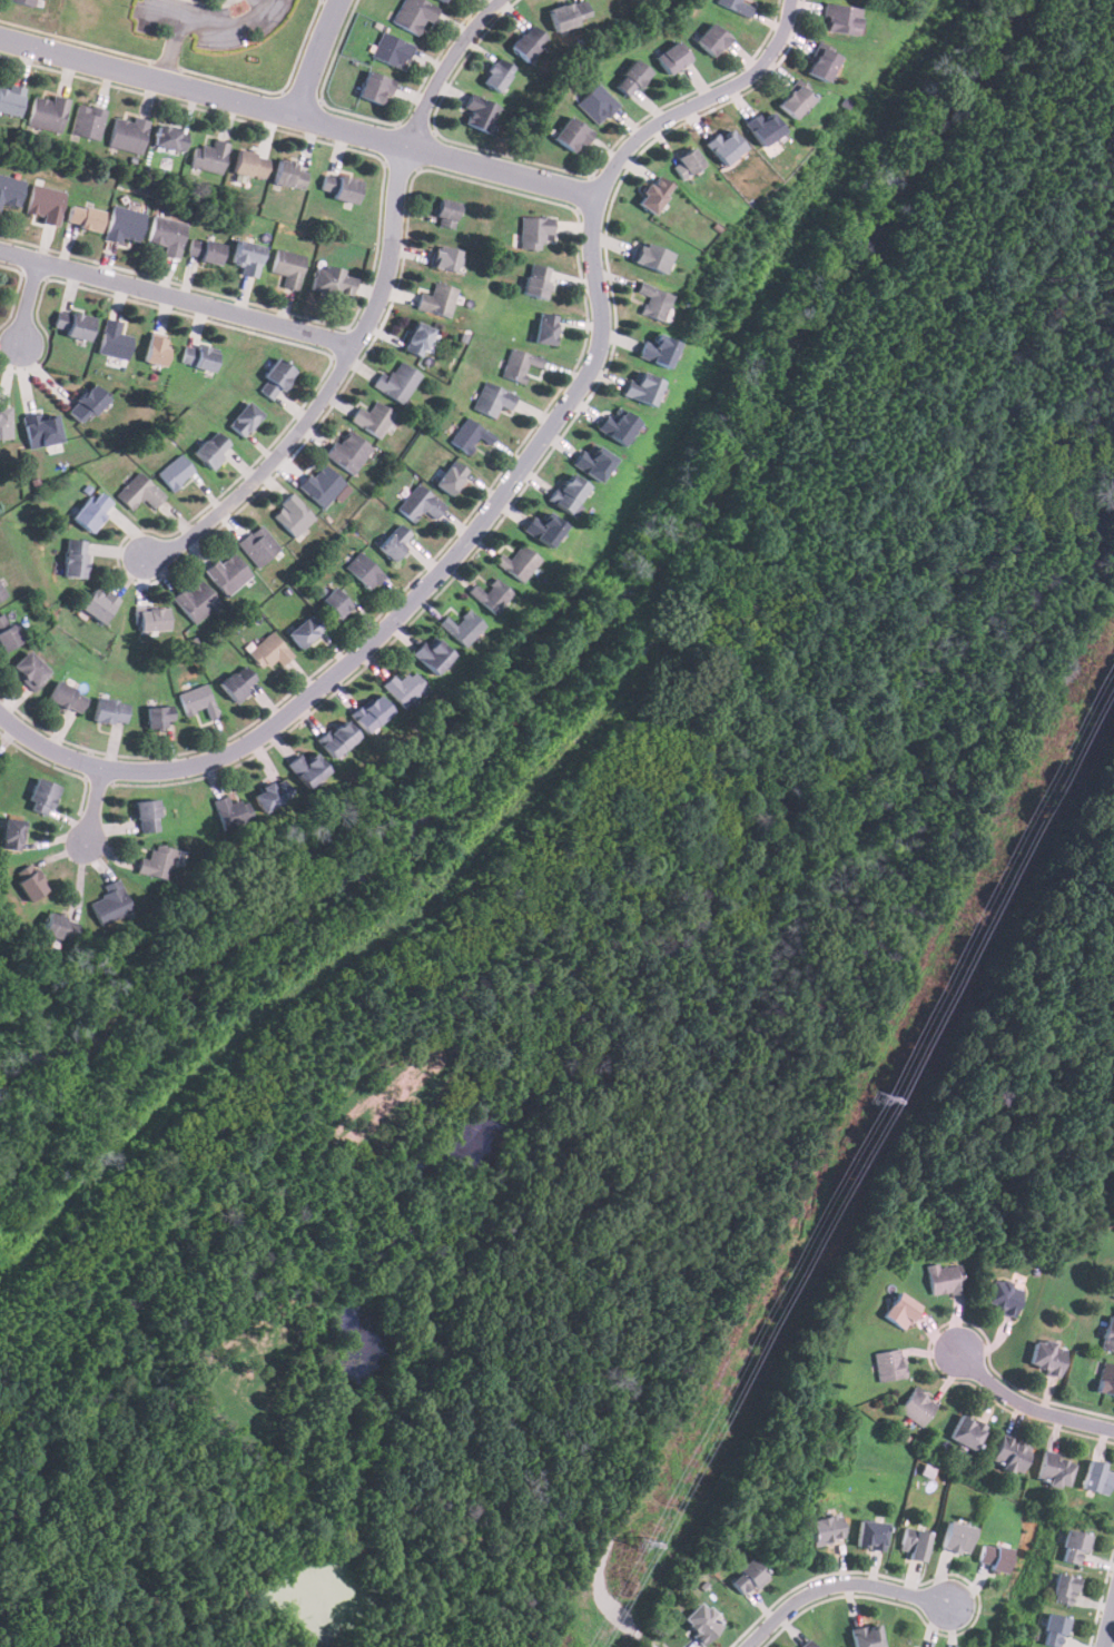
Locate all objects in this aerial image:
building: (442, 1)
building: (23, 2)
building: (739, 7)
road: (160, 12)
building: (569, 13)
building: (413, 16)
building: (840, 18)
road: (214, 26)
building: (712, 38)
building: (528, 41)
building: (392, 50)
road: (316, 57)
building: (672, 57)
road: (165, 63)
building: (822, 63)
building: (495, 73)
building: (631, 77)
building: (374, 87)
building: (10, 100)
building: (795, 100)
building: (597, 103)
building: (47, 112)
building: (480, 112)
road: (297, 116)
building: (88, 121)
building: (765, 127)
building: (127, 134)
building: (571, 134)
building: (170, 138)
building: (726, 146)
building: (210, 157)
building: (249, 162)
building: (687, 162)
building: (288, 174)
building: (339, 187)
building: (10, 189)
building: (652, 194)
building: (45, 204)
building: (444, 213)
building: (83, 216)
building: (125, 225)
building: (534, 230)
building: (167, 234)
building: (205, 250)
building: (651, 256)
building: (246, 257)
building: (443, 257)
building: (287, 266)
building: (333, 279)
building: (535, 280)
road: (179, 297)
road: (28, 300)
building: (437, 300)
building: (653, 300)
road: (374, 313)
building: (72, 323)
building: (545, 328)
building: (112, 339)
building: (417, 339)
building: (657, 349)
building: (155, 351)
building: (198, 356)
building: (519, 364)
building: (275, 378)
building: (397, 382)
building: (641, 386)
building: (492, 400)
building: (86, 403)
building: (244, 418)
building: (372, 418)
building: (4, 423)
building: (618, 426)
building: (41, 428)
building: (471, 435)
building: (211, 448)
building: (347, 452)
building: (593, 461)
building: (175, 472)
building: (450, 477)
building: (322, 485)
building: (139, 493)
building: (569, 493)
road: (499, 496)
building: (420, 504)
building: (90, 510)
building: (292, 515)
building: (543, 529)
building: (394, 541)
building: (257, 545)
building: (75, 558)
building: (517, 563)
building: (363, 571)
building: (228, 573)
building: (2, 593)
building: (491, 595)
building: (195, 600)
building: (335, 601)
building: (98, 604)
building: (151, 620)
building: (462, 628)
building: (304, 631)
building: (7, 633)
building: (269, 652)
building: (432, 654)
building: (29, 670)
building: (238, 683)
building: (403, 688)
building: (66, 698)
building: (197, 701)
building: (110, 711)
building: (371, 713)
building: (159, 717)
building: (337, 739)
building: (305, 768)
building: (269, 795)
building: (41, 797)
road: (93, 803)
building: (230, 812)
building: (145, 816)
building: (11, 834)
building: (156, 862)
building: (30, 885)
building: (110, 904)
building: (59, 927)
power tower: (875, 1104)
building: (945, 1280)
building: (1112, 1290)
building: (1003, 1295)
building: (899, 1311)
building: (1108, 1335)
building: (1046, 1358)
building: (887, 1364)
building: (1105, 1380)
road: (1027, 1406)
building: (917, 1407)
building: (966, 1431)
building: (1009, 1454)
building: (1055, 1470)
building: (1098, 1478)
building: (826, 1530)
building: (871, 1535)
building: (957, 1538)
building: (915, 1544)
power tower: (642, 1546)
building: (1075, 1547)
building: (994, 1558)
building: (747, 1577)
road: (838, 1585)
building: (1065, 1589)
building: (702, 1623)
road: (1110, 1629)
building: (1053, 1630)
building: (867, 1636)
building: (809, 1645)

